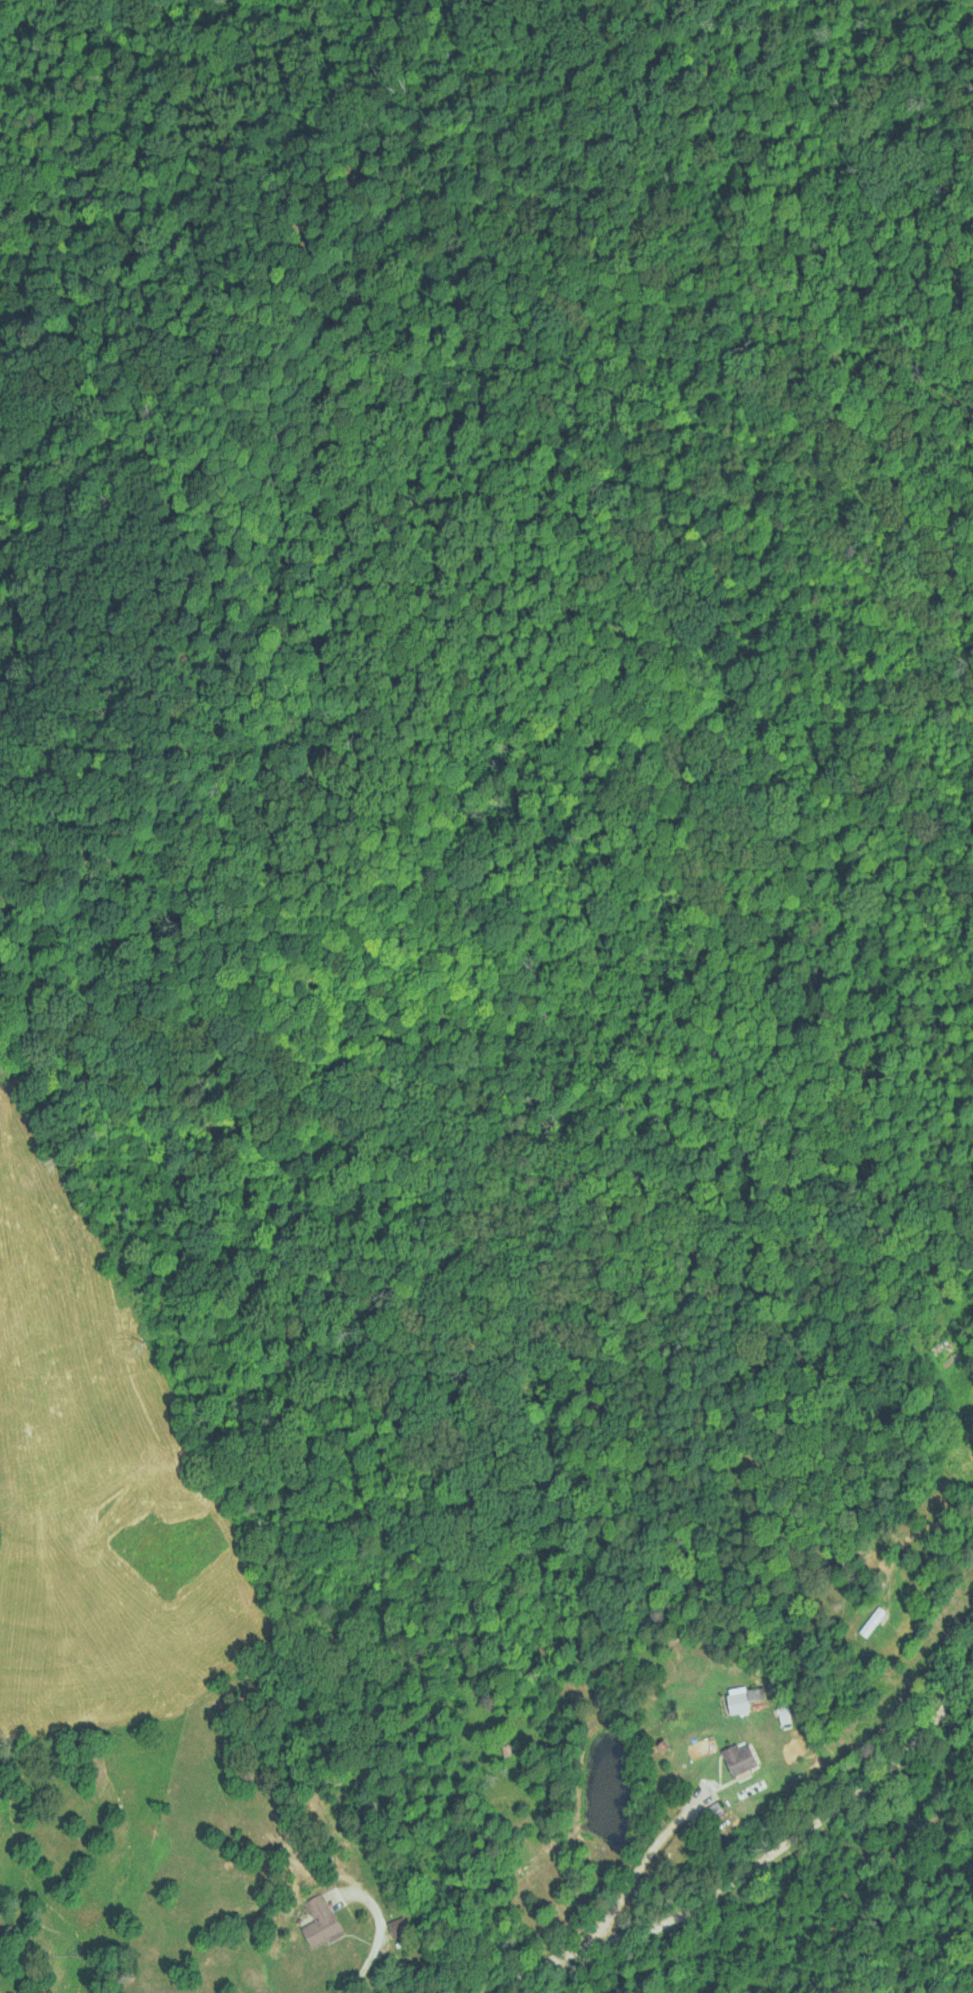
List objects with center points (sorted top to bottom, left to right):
building: (871, 1623)
building: (756, 1699)
building: (781, 1713)
building: (740, 1759)
building: (711, 1812)
road: (753, 1870)
road: (640, 1875)
building: (320, 1920)
building: (396, 1927)
road: (384, 1938)

